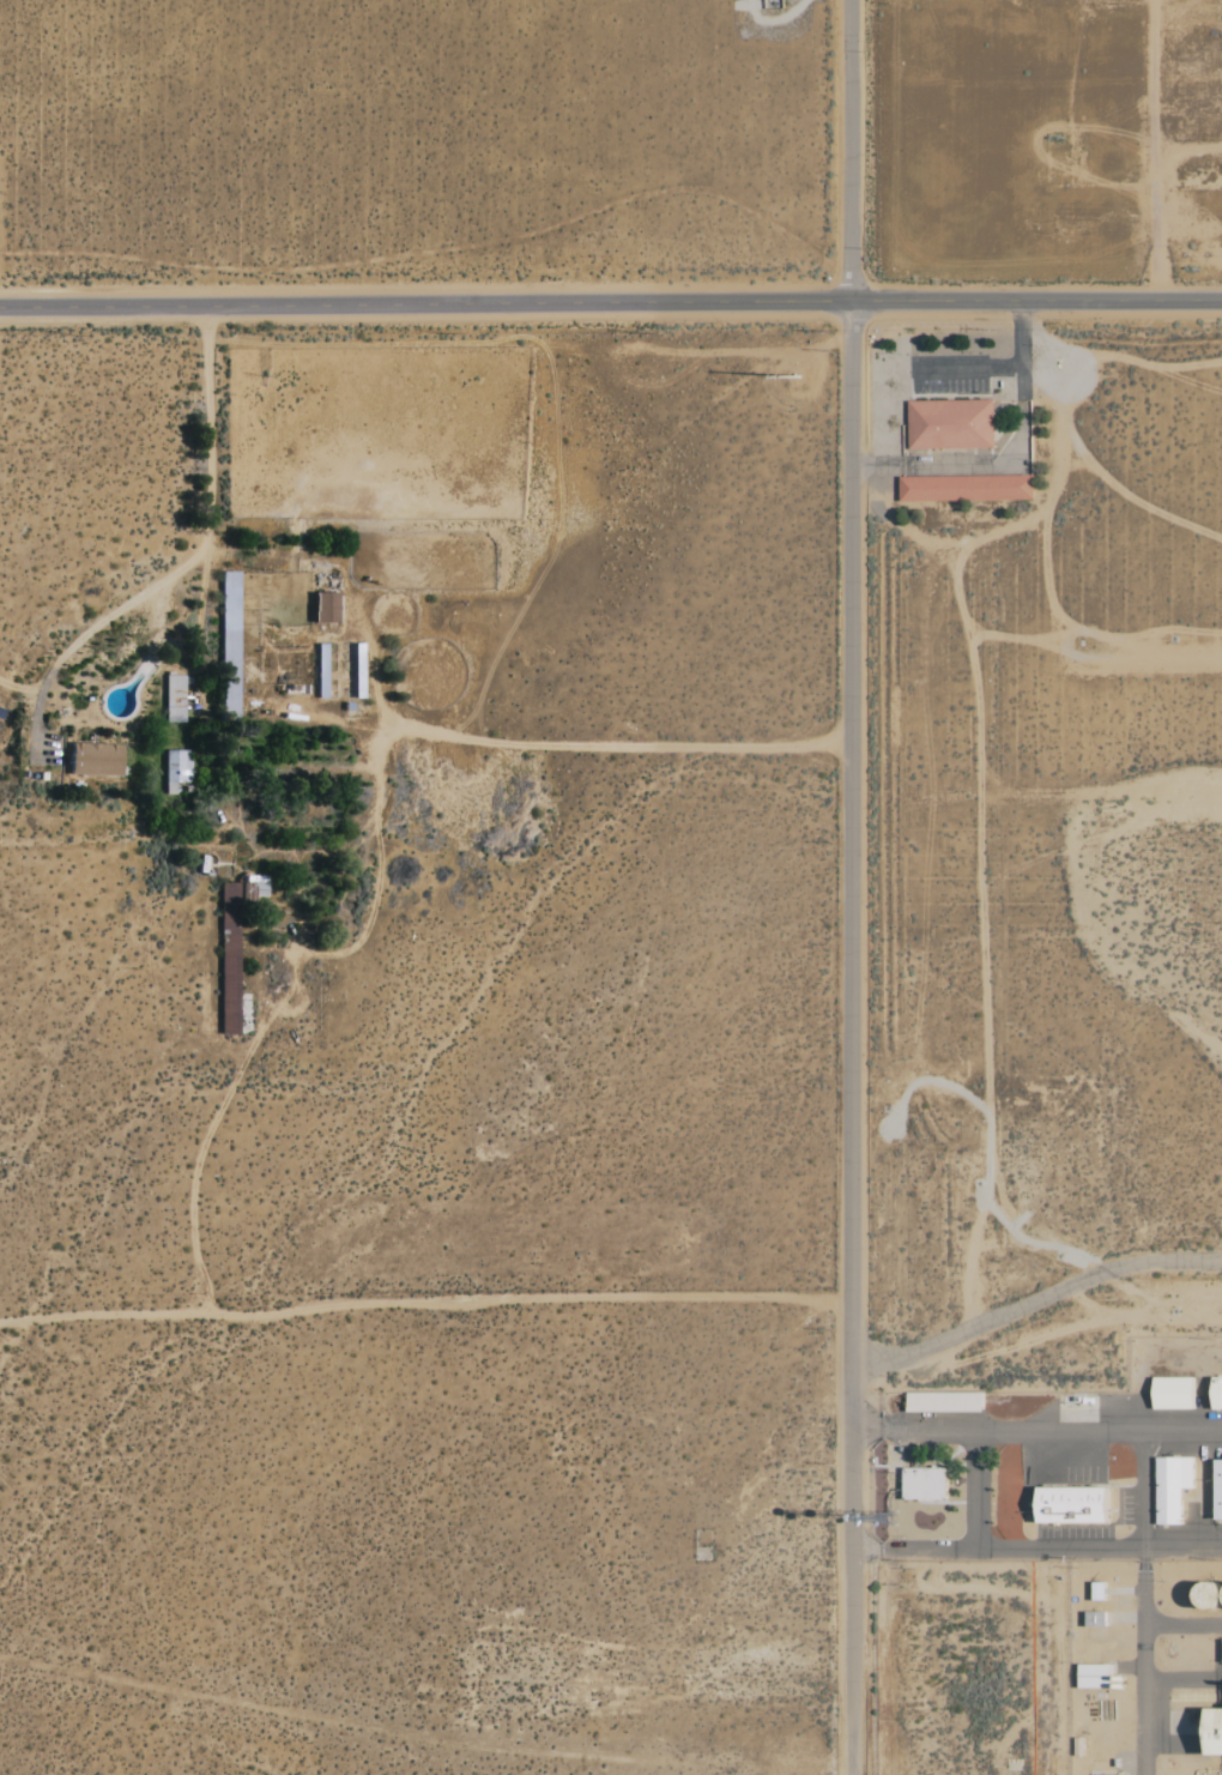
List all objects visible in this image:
road: (851, 150)
road: (610, 301)
building: (952, 424)
building: (969, 488)
road: (207, 538)
building: (326, 608)
road: (19, 687)
building: (175, 699)
road: (35, 726)
road: (613, 744)
building: (177, 768)
road: (847, 1037)
road: (423, 1297)
road: (1034, 1297)
building: (1178, 1394)
building: (1220, 1394)
building: (946, 1402)
road: (999, 1429)
road: (1184, 1431)
building: (926, 1484)
building: (1174, 1489)
building: (1221, 1491)
building: (1079, 1505)
road: (916, 1548)
road: (1038, 1551)
road: (1144, 1602)
building: (1099, 1620)
road: (1182, 1624)
building: (1097, 1677)
building: (1218, 1733)

